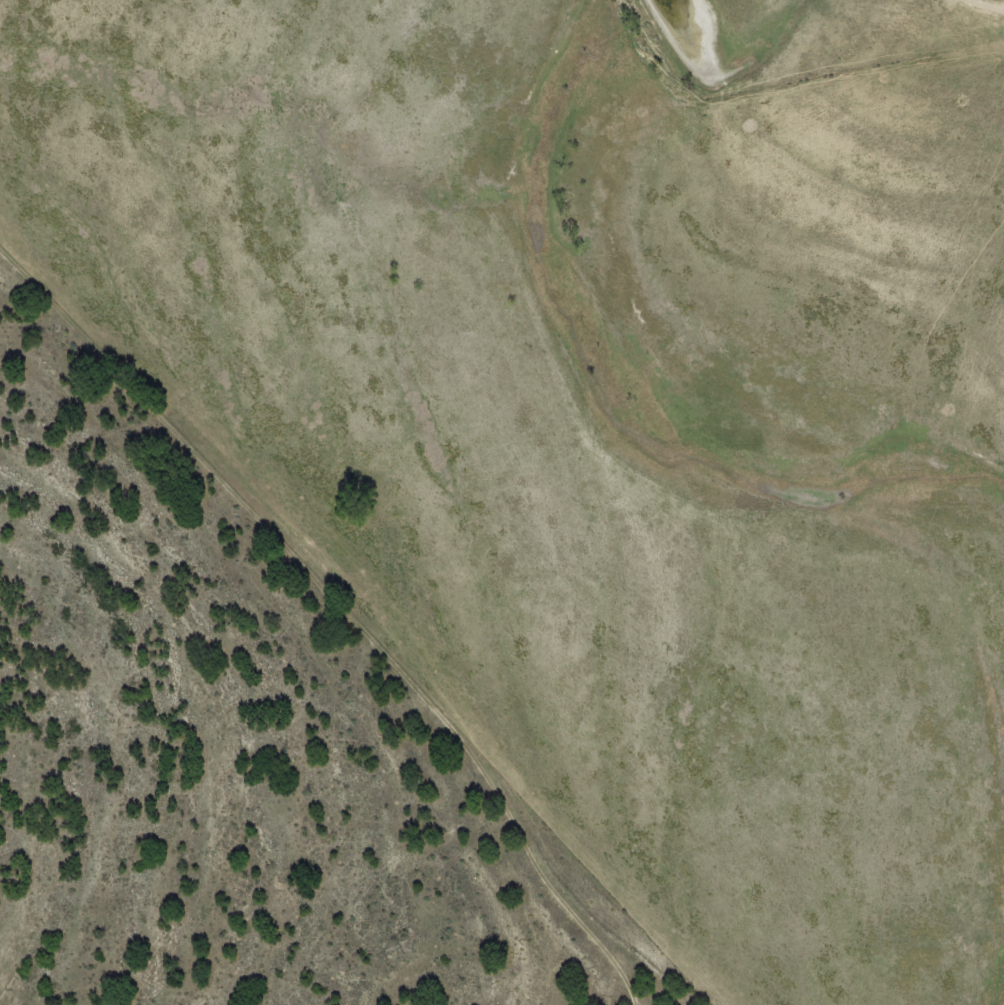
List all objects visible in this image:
road: (991, 2)

